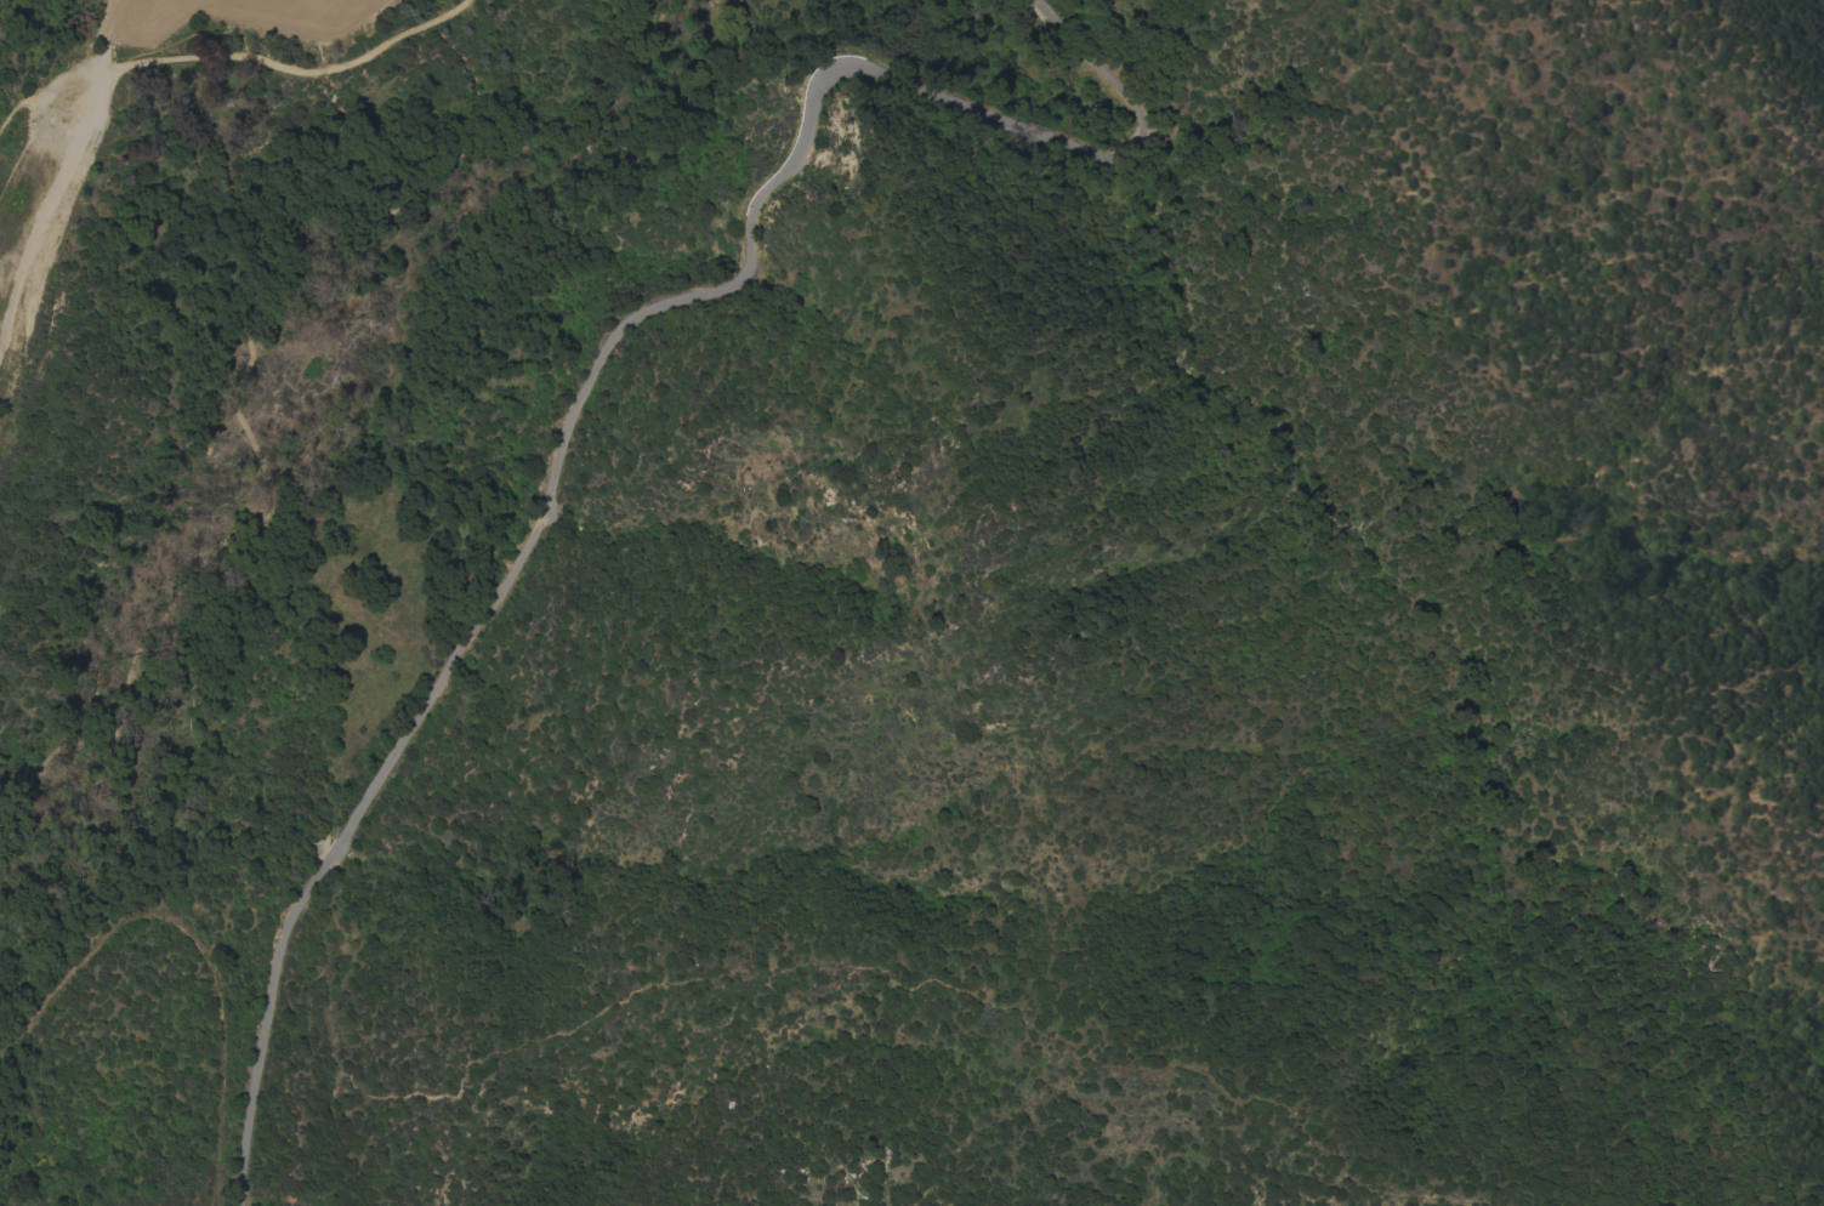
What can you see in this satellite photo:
road: (149, 6)
road: (288, 24)
road: (235, 58)
road: (62, 181)
road: (598, 365)
road: (246, 368)
park: (284, 476)
road: (195, 942)
road: (833, 967)

